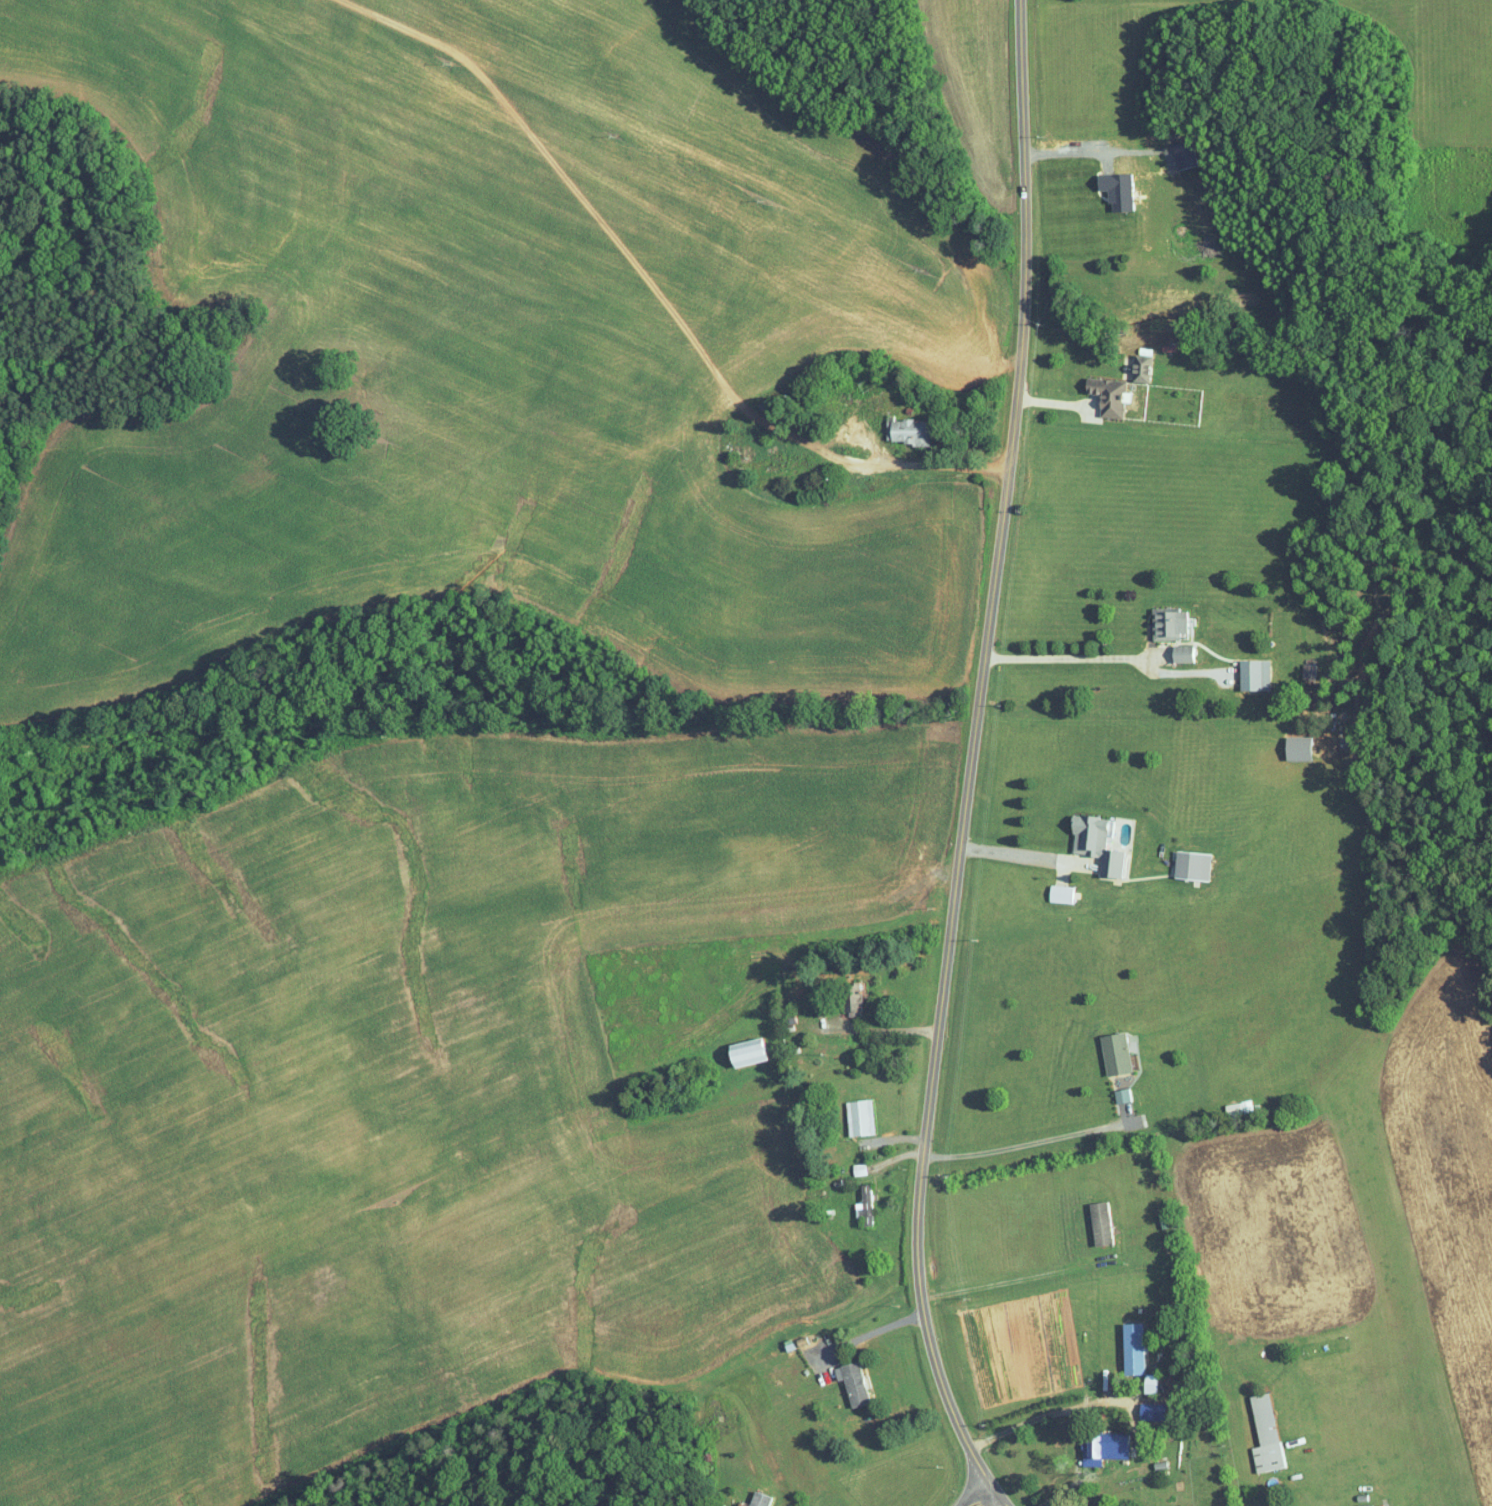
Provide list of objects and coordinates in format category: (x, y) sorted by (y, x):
building: (1141, 371)
building: (1109, 396)
road: (1056, 402)
building: (906, 431)
building: (744, 453)
road: (897, 462)
building: (780, 465)
building: (1169, 624)
building: (1183, 654)
road: (1070, 657)
building: (1254, 675)
road: (968, 762)
building: (1097, 842)
road: (1014, 856)
building: (1192, 864)
building: (1060, 893)
building: (853, 999)
road: (868, 1030)
building: (748, 1051)
building: (1116, 1052)
building: (1122, 1094)
building: (1238, 1108)
building: (859, 1117)
road: (1021, 1143)
building: (865, 1204)
building: (1101, 1222)
road: (1011, 1279)
airport runway: (1410, 1306)
road: (866, 1333)
building: (852, 1382)
building: (1147, 1405)
road: (1050, 1412)
building: (1266, 1434)
building: (1101, 1445)
road: (972, 1496)
building: (756, 1499)
building: (1364, 1504)

